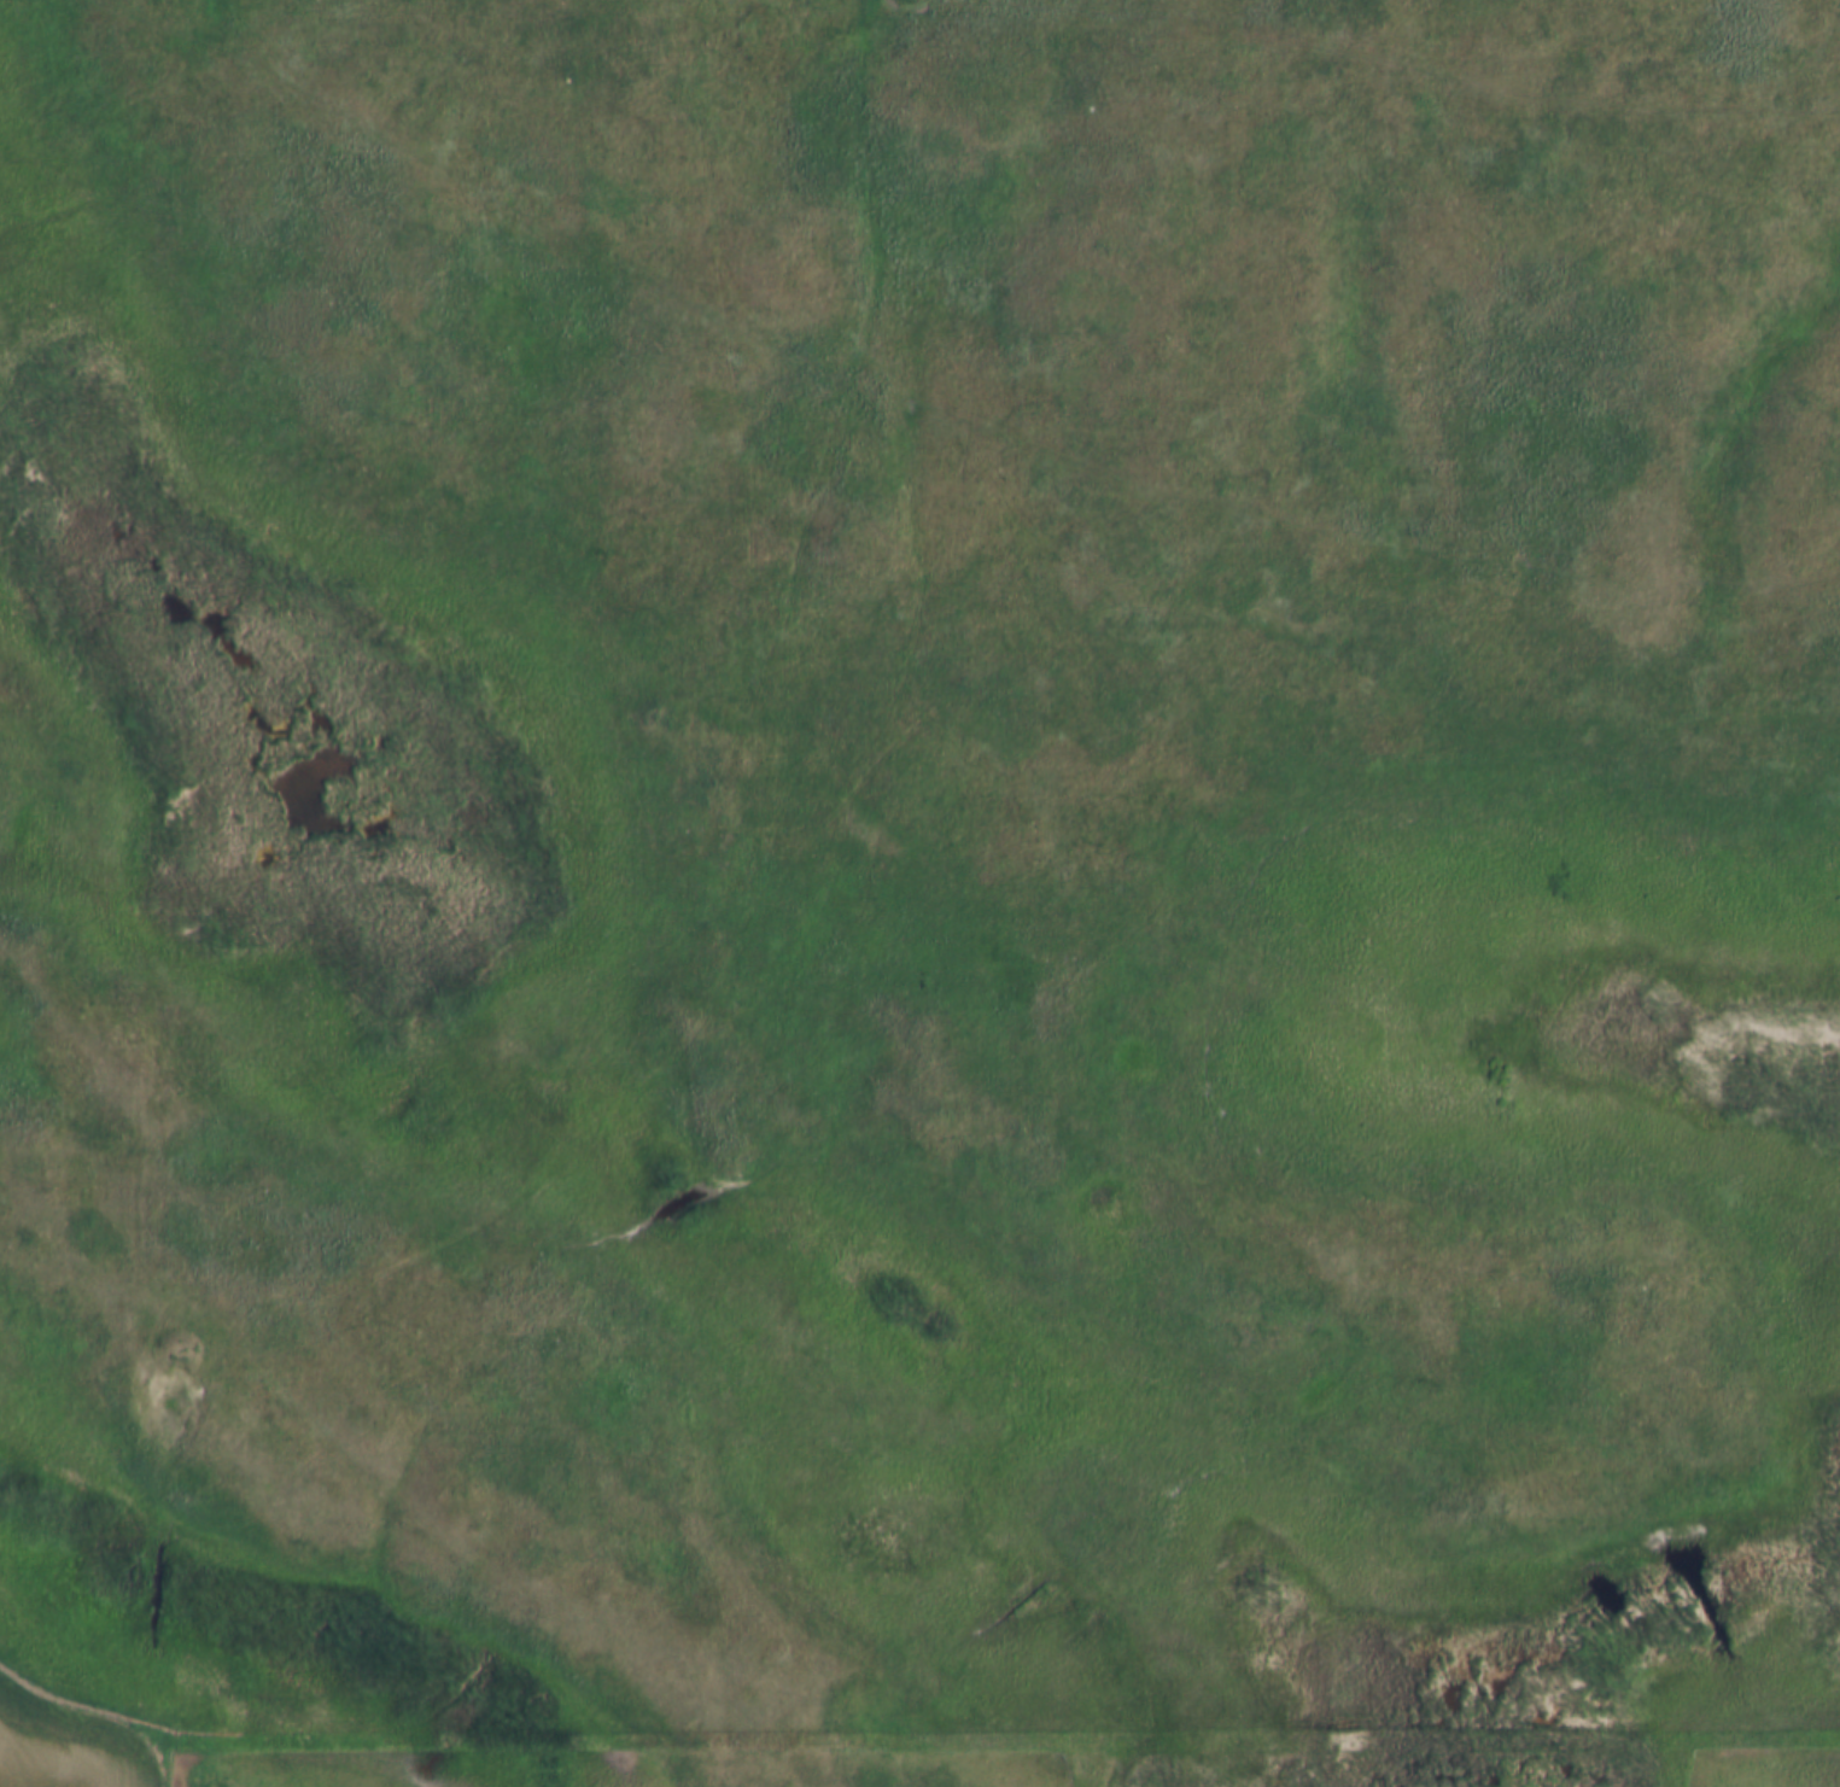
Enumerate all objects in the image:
crop: (62, 1734)

